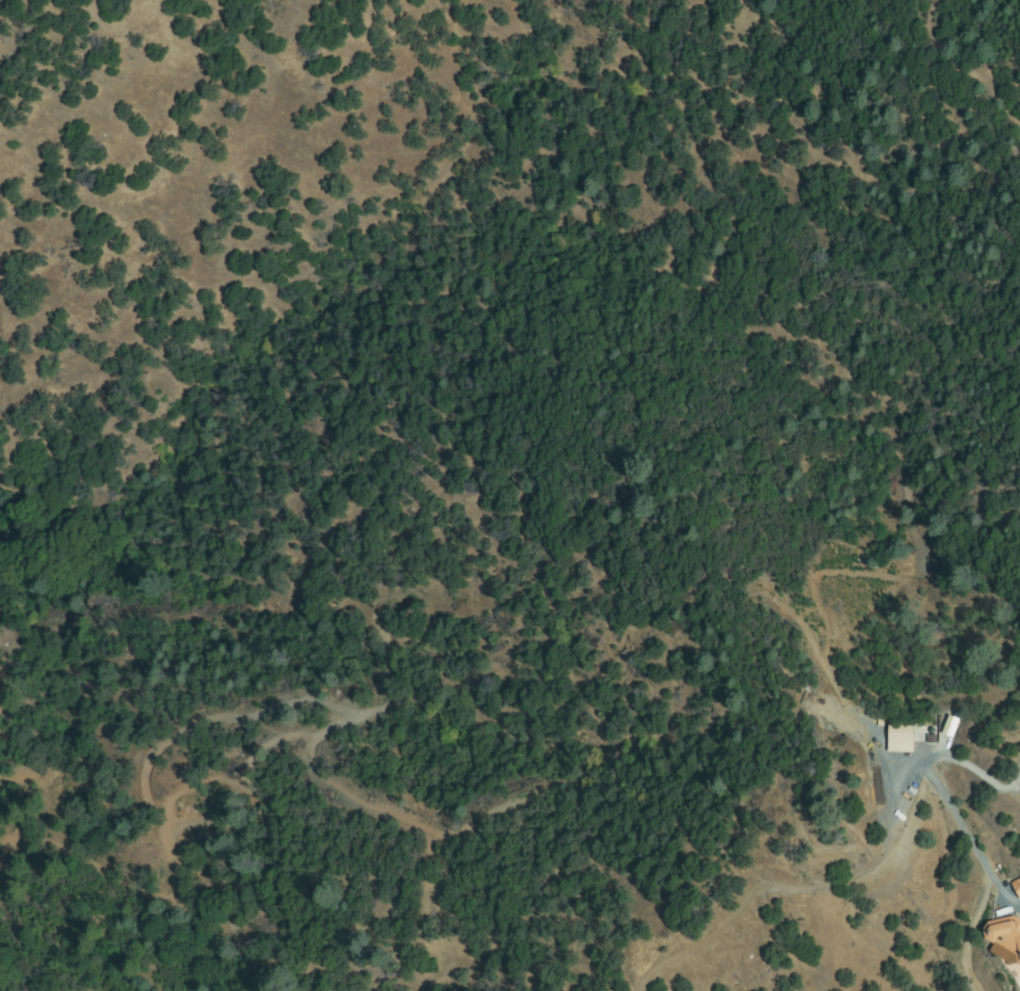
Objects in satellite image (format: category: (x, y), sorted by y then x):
building: (947, 725)
building: (896, 737)
building: (899, 771)
building: (886, 807)
road: (970, 840)
building: (1018, 885)
building: (1005, 933)

